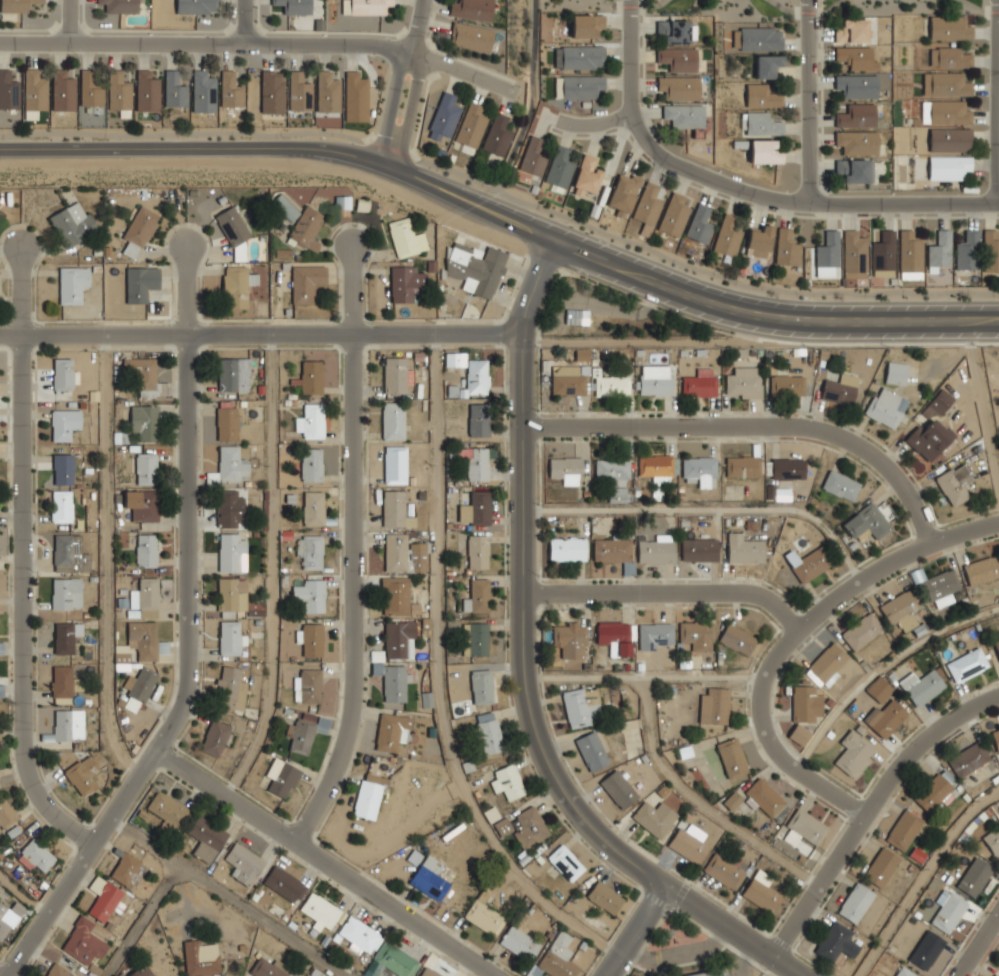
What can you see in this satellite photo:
building: (121, 5)
road: (636, 5)
building: (16, 6)
building: (295, 6)
building: (197, 7)
building: (372, 7)
road: (981, 8)
building: (473, 9)
road: (806, 11)
road: (71, 21)
road: (246, 22)
building: (585, 25)
building: (951, 28)
building: (674, 31)
building: (851, 31)
building: (472, 36)
building: (757, 38)
road: (254, 44)
building: (579, 55)
road: (629, 56)
building: (950, 57)
building: (856, 59)
building: (677, 60)
building: (767, 64)
road: (410, 85)
building: (578, 85)
building: (857, 85)
building: (946, 85)
building: (678, 88)
building: (91, 89)
building: (175, 89)
building: (230, 89)
building: (35, 90)
building: (63, 90)
building: (272, 90)
building: (9, 91)
building: (148, 91)
building: (203, 91)
building: (300, 92)
building: (328, 92)
building: (356, 92)
building: (119, 93)
building: (761, 95)
road: (807, 100)
road: (998, 106)
road: (528, 111)
building: (949, 113)
building: (856, 115)
building: (444, 116)
building: (684, 116)
road: (595, 120)
building: (762, 122)
building: (471, 126)
building: (497, 135)
building: (950, 140)
building: (857, 142)
building: (764, 151)
building: (534, 156)
building: (948, 166)
building: (560, 167)
building: (855, 169)
building: (587, 176)
road: (503, 191)
building: (623, 192)
road: (799, 198)
building: (342, 202)
building: (285, 207)
building: (647, 207)
building: (674, 214)
building: (73, 222)
road: (503, 223)
building: (700, 223)
building: (233, 226)
building: (307, 228)
building: (139, 230)
building: (727, 236)
building: (407, 238)
building: (759, 241)
building: (787, 247)
building: (828, 249)
building: (940, 250)
building: (968, 251)
building: (991, 251)
building: (883, 253)
building: (854, 254)
building: (910, 255)
building: (477, 267)
building: (307, 282)
building: (72, 283)
building: (141, 283)
building: (405, 283)
building: (237, 286)
road: (187, 288)
road: (353, 288)
road: (24, 291)
building: (577, 316)
road: (654, 328)
road: (260, 331)
building: (455, 359)
building: (896, 372)
building: (143, 373)
building: (63, 374)
building: (233, 375)
building: (394, 375)
building: (311, 376)
building: (477, 376)
building: (654, 380)
building: (743, 381)
building: (698, 382)
building: (569, 383)
building: (787, 384)
building: (611, 385)
building: (838, 389)
building: (887, 406)
road: (984, 409)
building: (478, 420)
building: (145, 421)
building: (311, 421)
building: (392, 421)
building: (64, 423)
building: (228, 423)
road: (756, 424)
building: (932, 428)
building: (231, 463)
building: (474, 463)
building: (312, 464)
building: (394, 465)
building: (742, 465)
building: (656, 466)
building: (787, 467)
building: (63, 468)
building: (146, 468)
building: (567, 469)
building: (613, 469)
building: (700, 470)
building: (955, 483)
building: (841, 484)
building: (142, 503)
building: (61, 505)
building: (314, 507)
building: (227, 508)
building: (393, 508)
building: (475, 509)
road: (707, 509)
building: (867, 521)
building: (567, 548)
building: (146, 549)
building: (612, 549)
building: (699, 549)
building: (658, 550)
building: (310, 551)
building: (477, 551)
building: (745, 551)
building: (232, 552)
building: (69, 553)
building: (403, 554)
road: (106, 557)
building: (808, 563)
road: (271, 567)
building: (982, 569)
building: (940, 587)
building: (229, 591)
road: (668, 591)
road: (355, 592)
building: (67, 593)
building: (311, 595)
building: (395, 596)
building: (477, 596)
building: (145, 598)
road: (24, 601)
building: (901, 608)
building: (862, 630)
building: (654, 634)
building: (697, 634)
road: (793, 635)
building: (65, 636)
building: (617, 636)
building: (231, 637)
building: (311, 638)
building: (397, 638)
building: (570, 638)
building: (737, 638)
building: (145, 639)
building: (475, 639)
building: (996, 642)
building: (827, 663)
building: (967, 664)
road: (881, 666)
road: (525, 670)
road: (647, 673)
road: (434, 676)
road: (189, 680)
building: (391, 682)
building: (63, 683)
building: (140, 684)
building: (308, 686)
building: (922, 686)
building: (230, 687)
building: (481, 687)
building: (880, 689)
building: (806, 703)
building: (580, 705)
building: (715, 705)
building: (885, 718)
building: (68, 724)
building: (306, 731)
building: (390, 731)
building: (488, 733)
building: (798, 734)
building: (215, 738)
building: (996, 739)
building: (592, 750)
building: (855, 752)
building: (732, 756)
building: (967, 759)
building: (82, 775)
building: (282, 776)
building: (507, 782)
building: (619, 788)
building: (933, 794)
building: (368, 796)
building: (765, 796)
building: (732, 799)
road: (698, 801)
building: (165, 809)
road: (869, 809)
building: (6, 812)
building: (655, 817)
building: (523, 826)
building: (803, 827)
building: (903, 830)
building: (206, 838)
building: (992, 840)
building: (688, 845)
building: (36, 855)
road: (328, 863)
building: (565, 863)
building: (243, 864)
building: (881, 867)
building: (125, 869)
building: (725, 871)
road: (924, 877)
building: (974, 877)
building: (429, 878)
building: (284, 884)
road: (23, 893)
building: (762, 894)
road: (228, 897)
building: (604, 897)
building: (103, 898)
building: (855, 903)
building: (948, 910)
building: (320, 911)
building: (483, 916)
road: (139, 918)
building: (6, 919)
road: (635, 930)
building: (359, 935)
building: (83, 942)
building: (835, 942)
building: (519, 943)
road: (979, 945)
building: (926, 950)
road: (679, 954)
building: (558, 957)
building: (199, 961)
building: (391, 962)
building: (264, 969)
building: (57, 970)
building: (141, 971)
building: (428, 972)
building: (710, 972)
building: (904, 972)
building: (994, 975)

